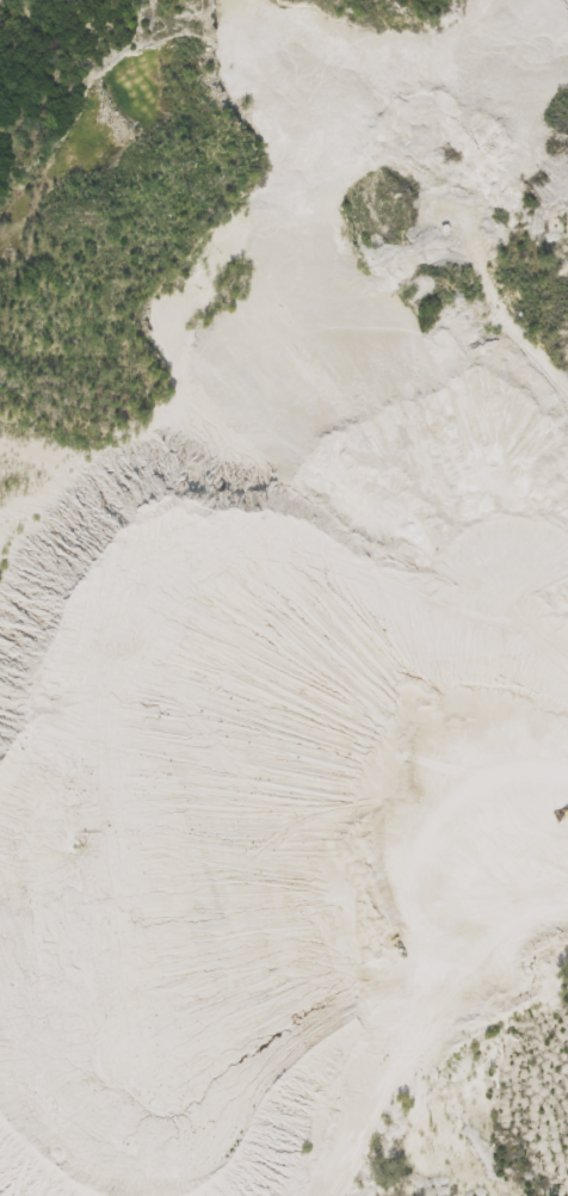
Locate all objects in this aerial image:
road: (511, 53)

